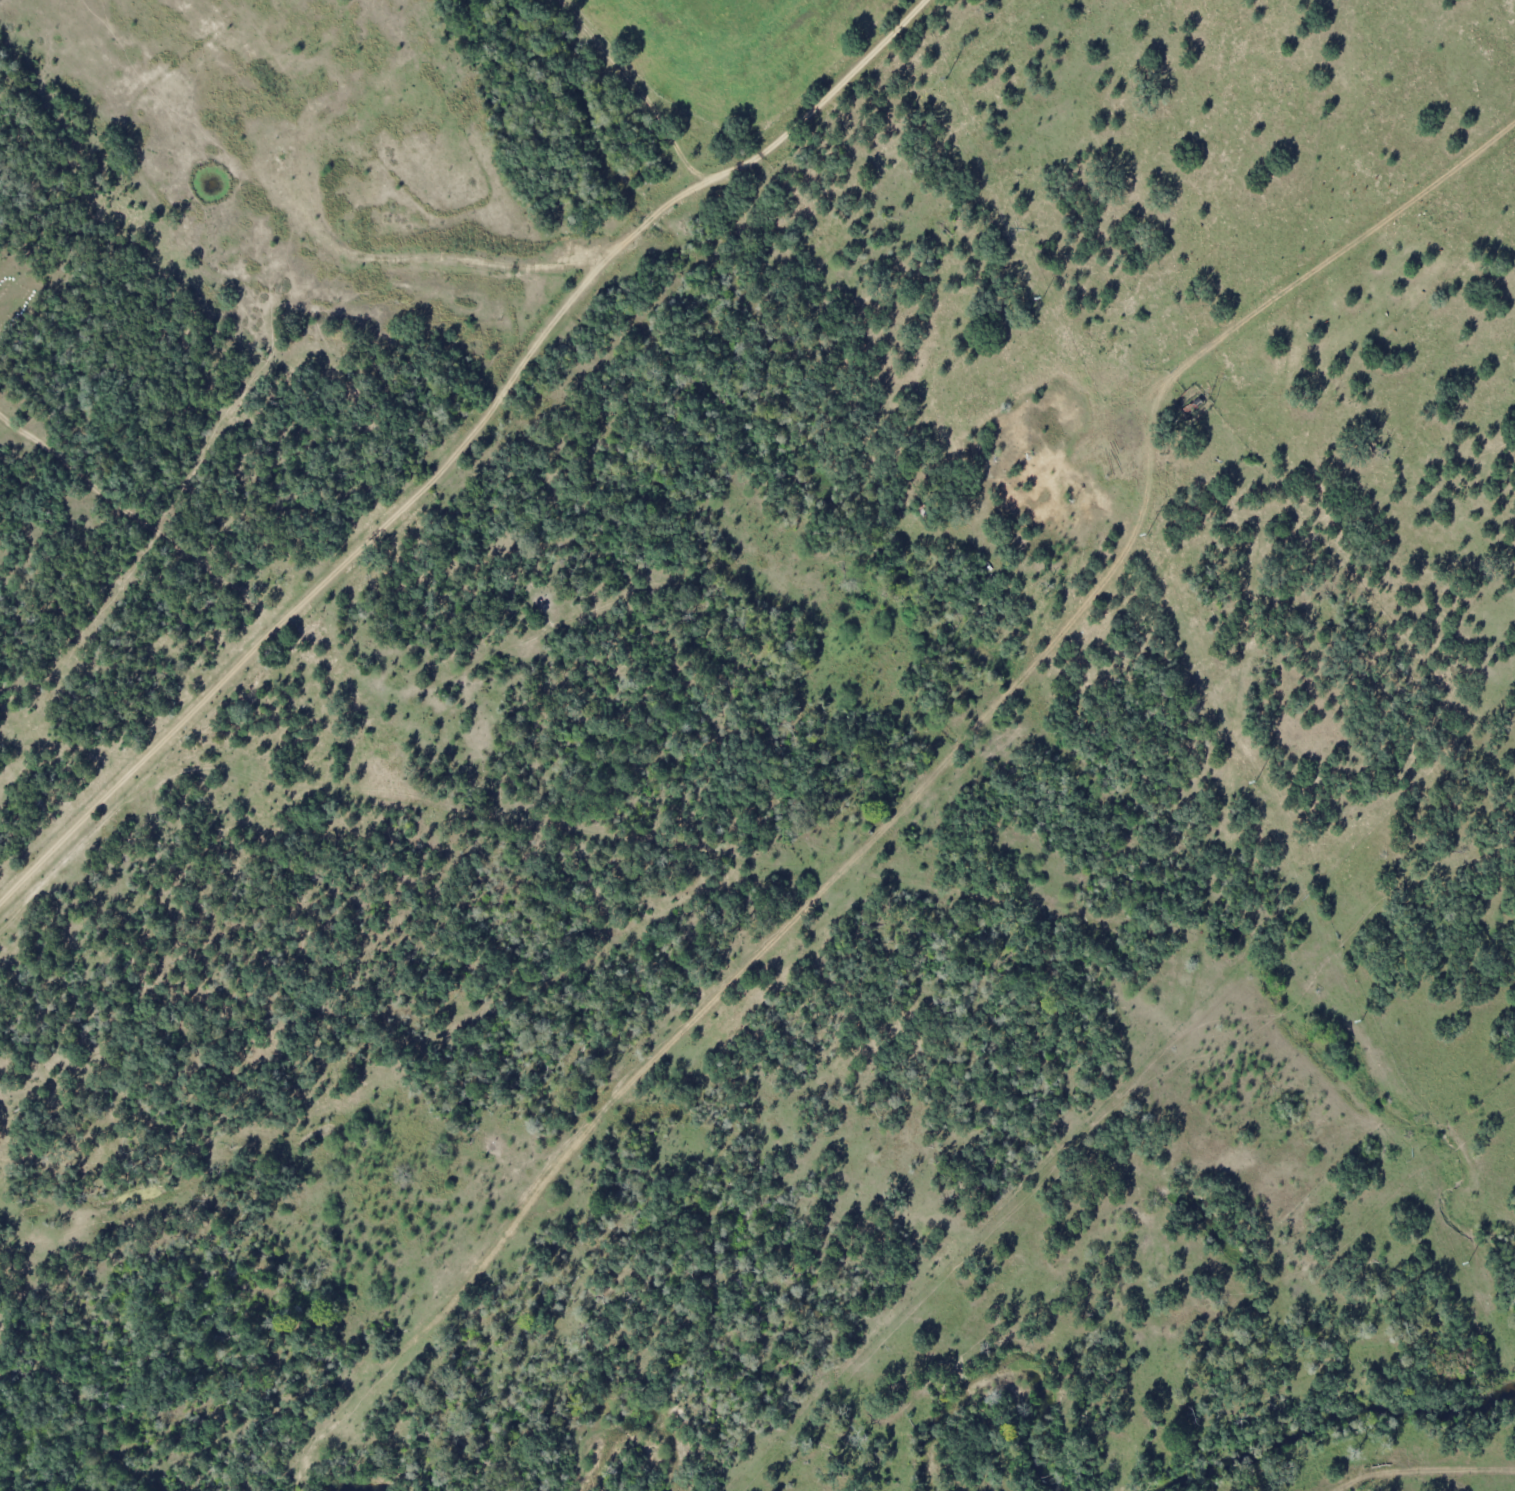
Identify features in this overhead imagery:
road: (513, 479)
road: (963, 807)

